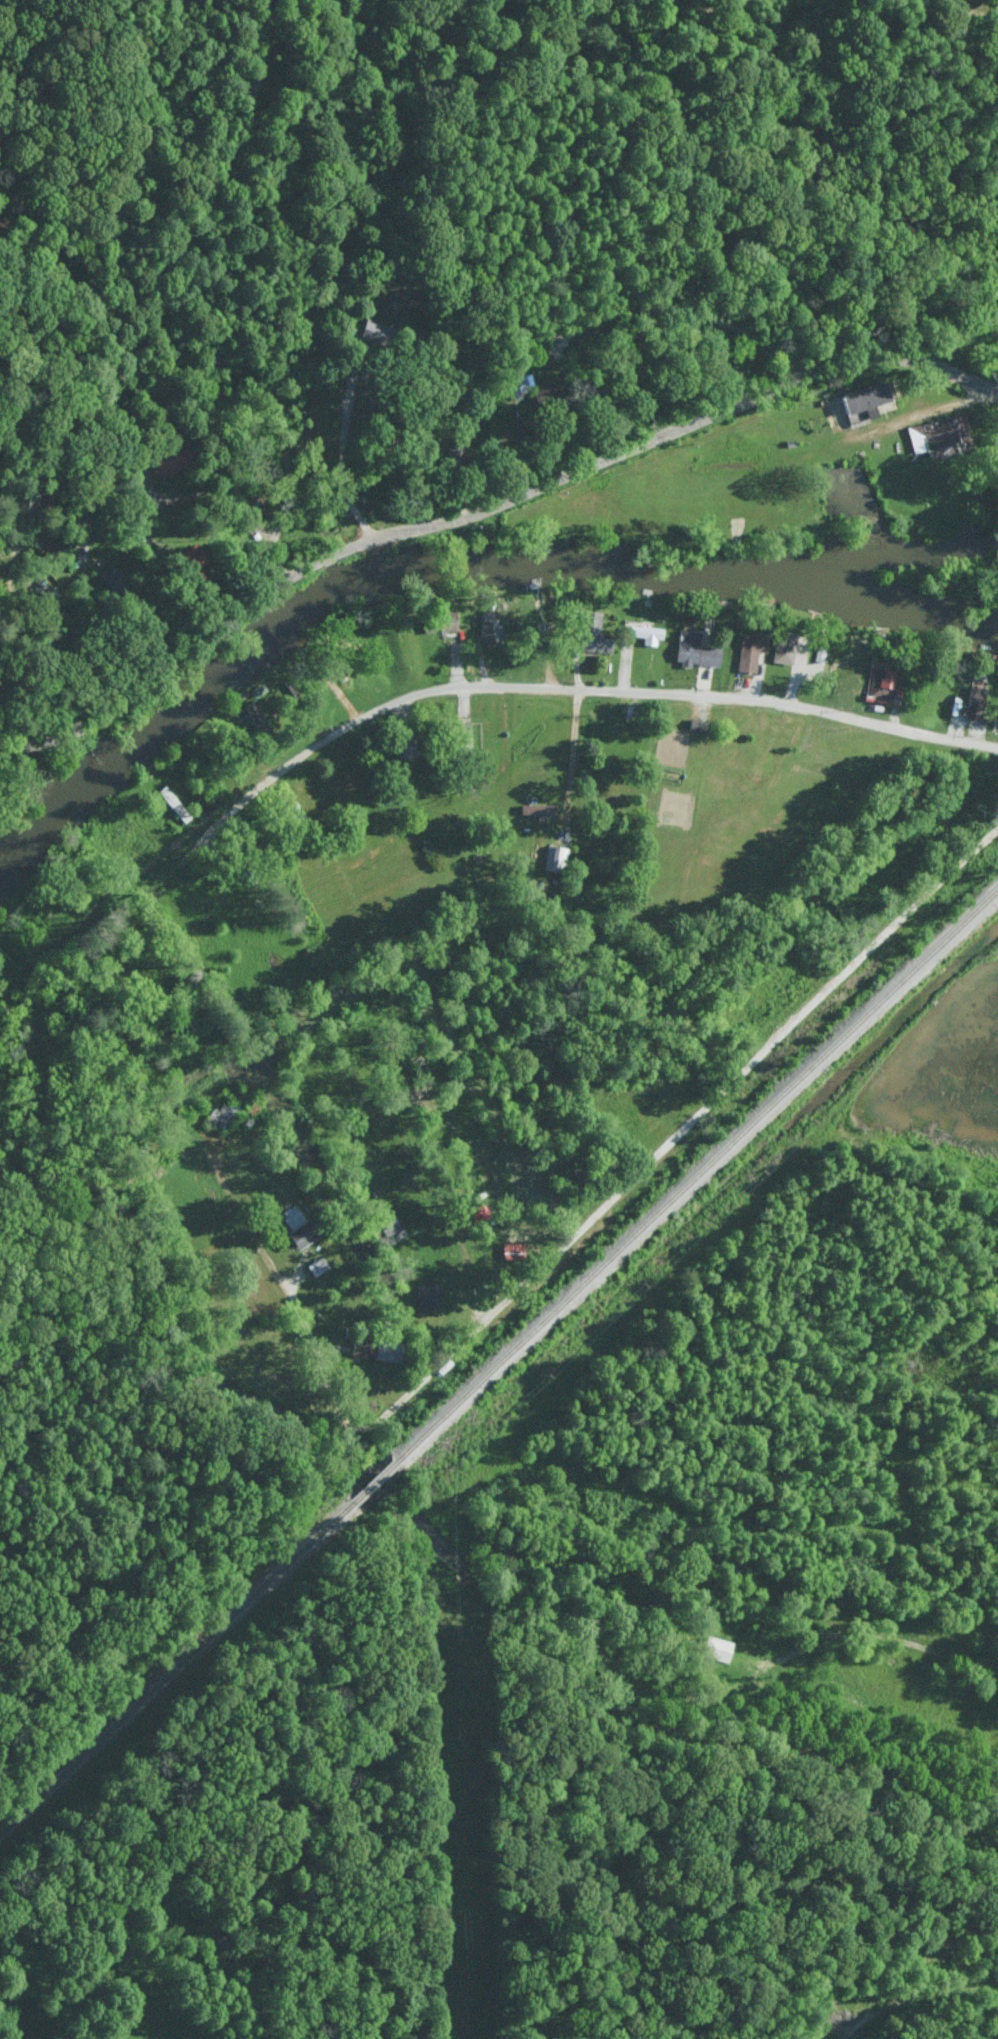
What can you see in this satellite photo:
road: (644, 305)
building: (372, 331)
building: (863, 399)
building: (943, 435)
road: (341, 447)
road: (236, 497)
road: (484, 509)
building: (195, 555)
river: (446, 561)
building: (441, 622)
building: (491, 630)
building: (644, 631)
building: (595, 633)
building: (785, 646)
building: (696, 649)
building: (751, 650)
building: (884, 684)
road: (525, 687)
building: (975, 702)
building: (256, 716)
building: (407, 747)
road: (572, 752)
building: (555, 858)
building: (220, 1114)
road: (682, 1131)
railway: (693, 1178)
building: (301, 1227)
building: (428, 1296)
road: (477, 1304)
building: (363, 1347)
building: (390, 1351)
railway: (371, 1483)
road: (551, 1543)
building: (720, 1649)
railway: (176, 1669)
road: (912, 1992)

